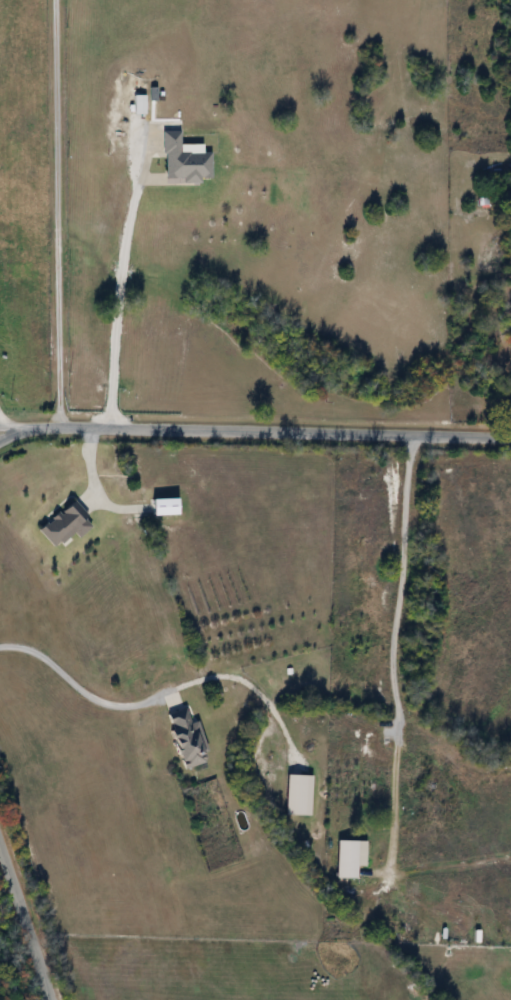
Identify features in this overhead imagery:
building: (180, 162)
road: (59, 213)
road: (119, 294)
road: (255, 430)
road: (84, 480)
building: (172, 508)
building: (70, 527)
road: (394, 646)
road: (80, 687)
building: (184, 735)
building: (341, 859)
road: (25, 929)

